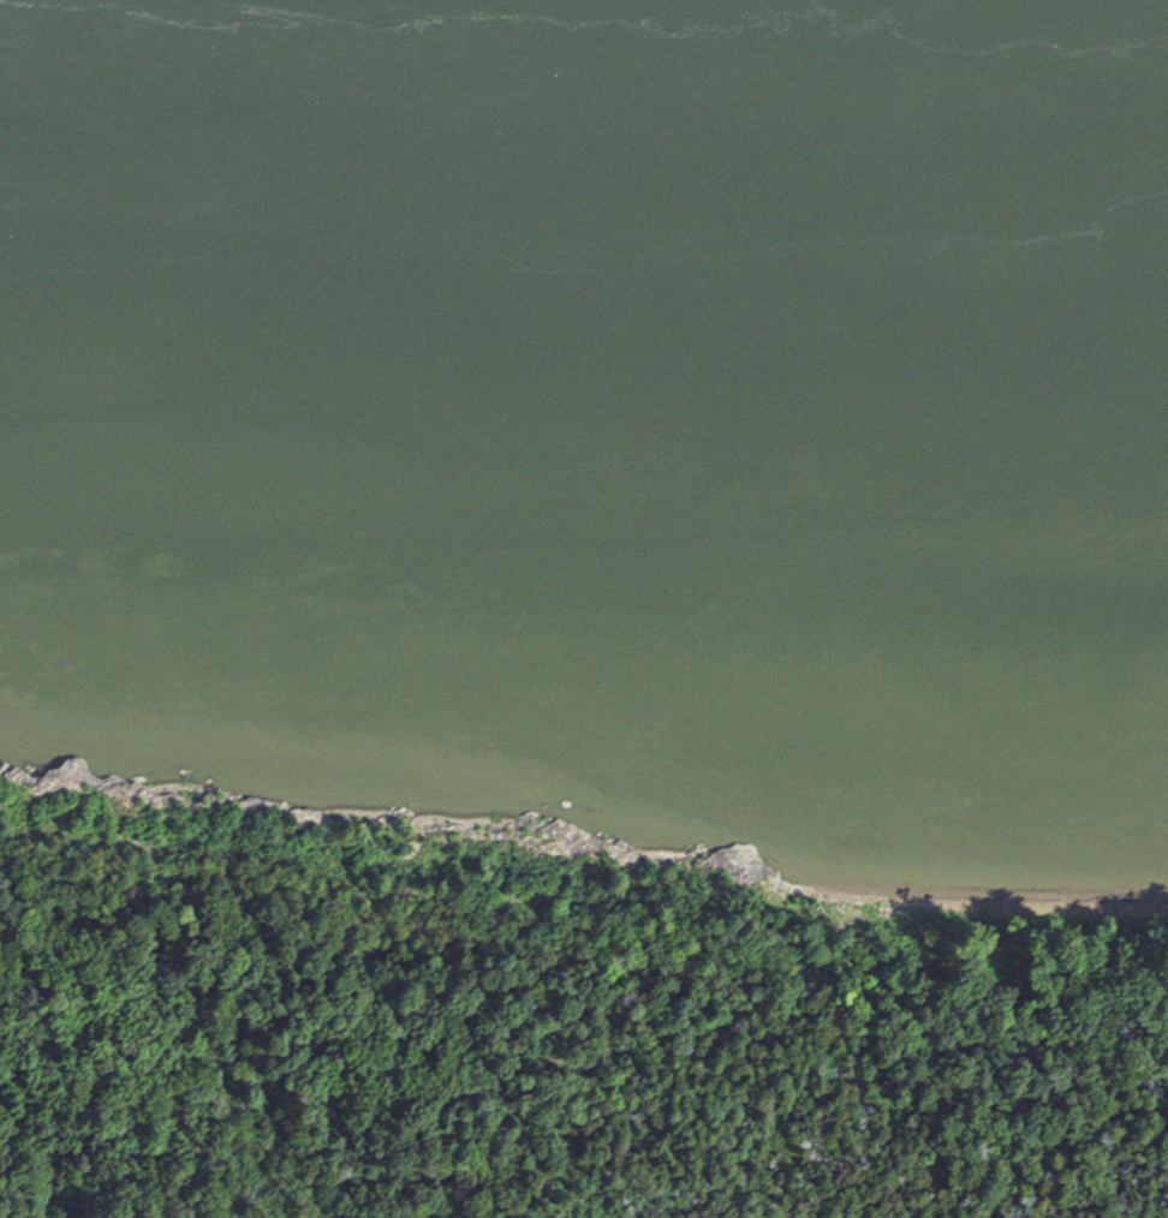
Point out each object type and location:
river: (406, 46)

